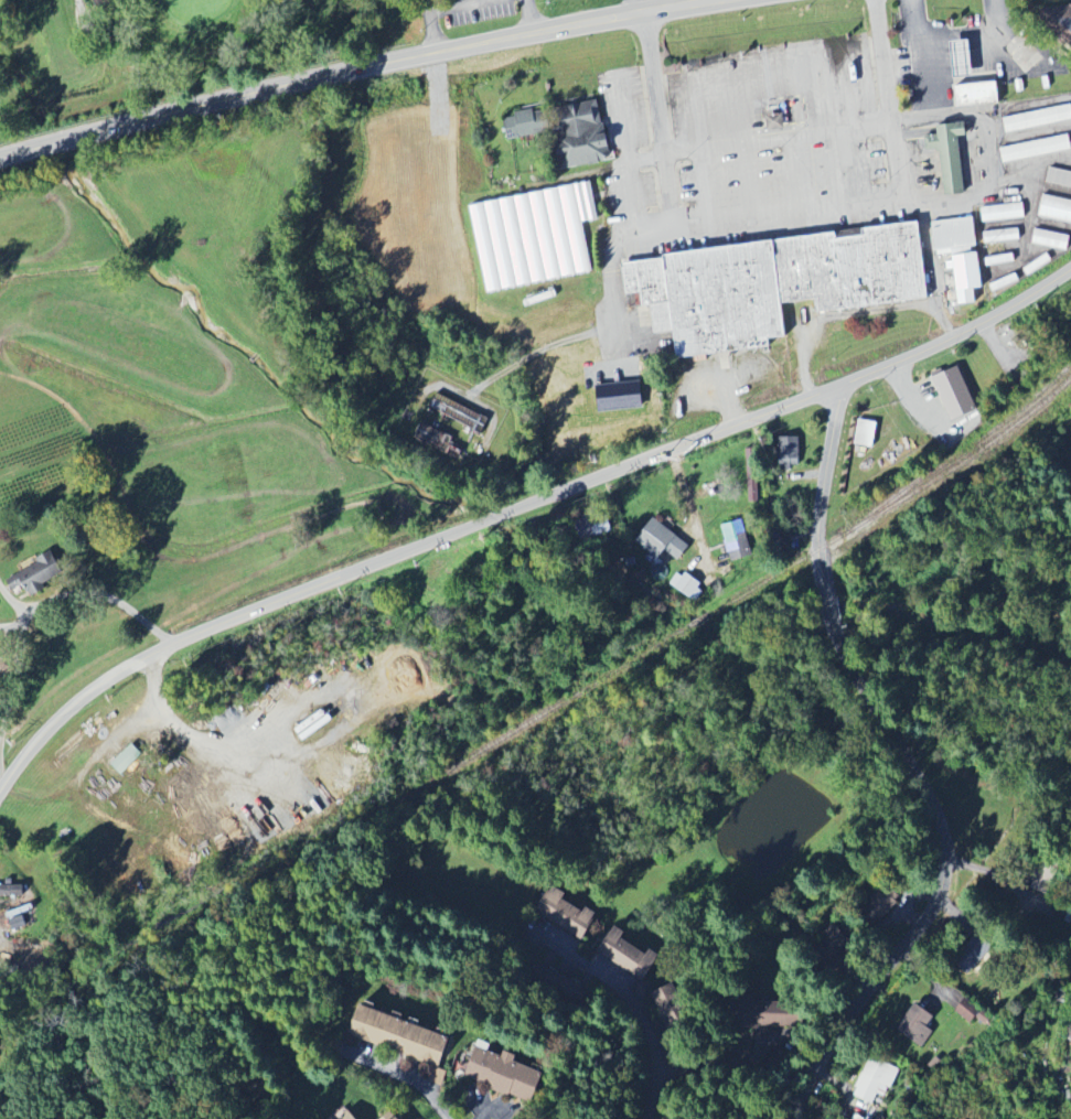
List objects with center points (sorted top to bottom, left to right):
road: (741, 1)
building: (1062, 22)
road: (580, 24)
park: (157, 49)
building: (963, 60)
building: (977, 95)
road: (201, 112)
building: (1037, 119)
building: (777, 123)
building: (528, 125)
building: (583, 136)
building: (1035, 150)
building: (950, 157)
building: (1059, 177)
building: (1054, 209)
building: (1002, 213)
road: (780, 224)
building: (533, 237)
building: (1000, 237)
building: (1050, 239)
building: (773, 286)
building: (954, 391)
building: (459, 415)
building: (868, 433)
building: (432, 438)
building: (789, 454)
building: (752, 477)
road: (689, 507)
road: (521, 512)
building: (593, 527)
building: (737, 541)
building: (662, 542)
building: (36, 575)
building: (687, 587)
road: (104, 598)
road: (14, 684)
railway: (536, 718)
building: (127, 760)
road: (908, 766)
building: (1047, 882)
building: (11, 891)
building: (887, 900)
building: (566, 914)
building: (837, 938)
building: (628, 955)
road: (631, 1002)
building: (672, 1005)
building: (968, 1011)
building: (917, 1025)
building: (1069, 1034)
building: (399, 1036)
road: (728, 1065)
road: (1048, 1069)
road: (403, 1075)
building: (503, 1075)
building: (437, 1077)
building: (875, 1080)
road: (490, 1108)
building: (350, 1116)
building: (394, 1116)

